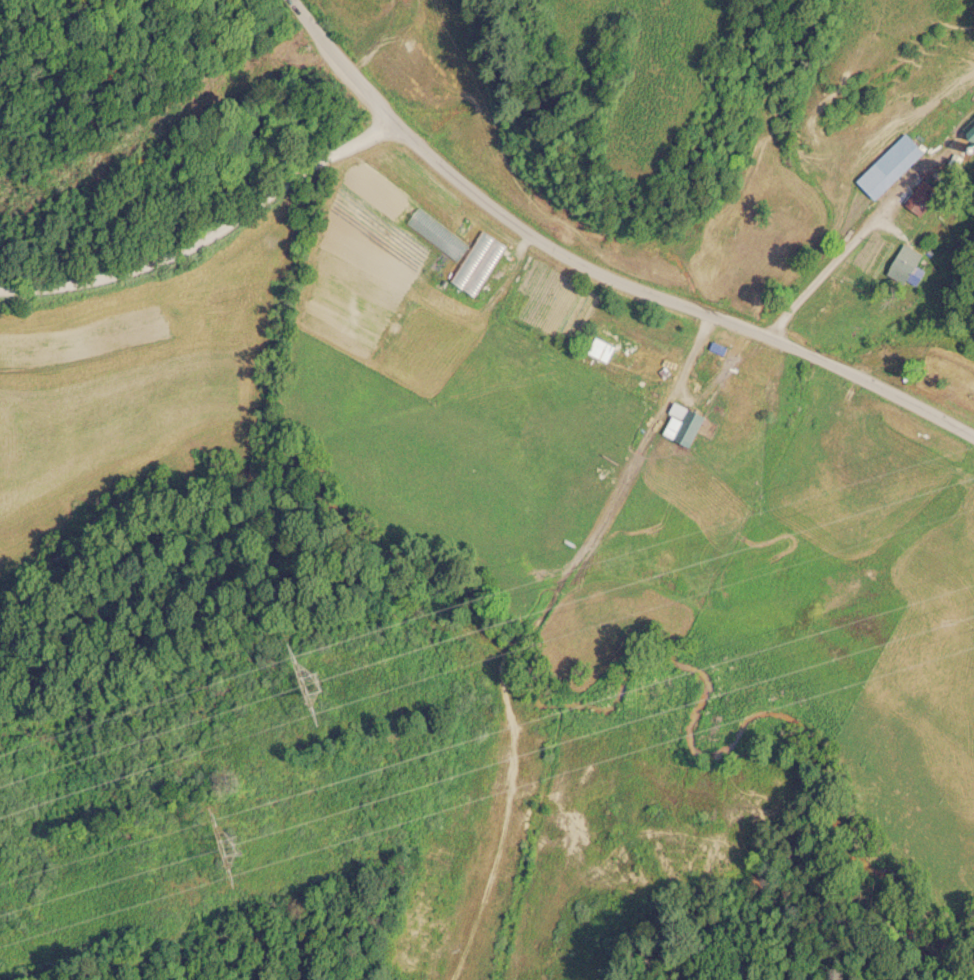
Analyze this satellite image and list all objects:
building: (892, 163)
building: (923, 194)
road: (208, 233)
building: (906, 261)
road: (597, 269)
building: (623, 338)
building: (692, 425)
road: (617, 490)
power tower: (314, 694)
power tower: (229, 858)

